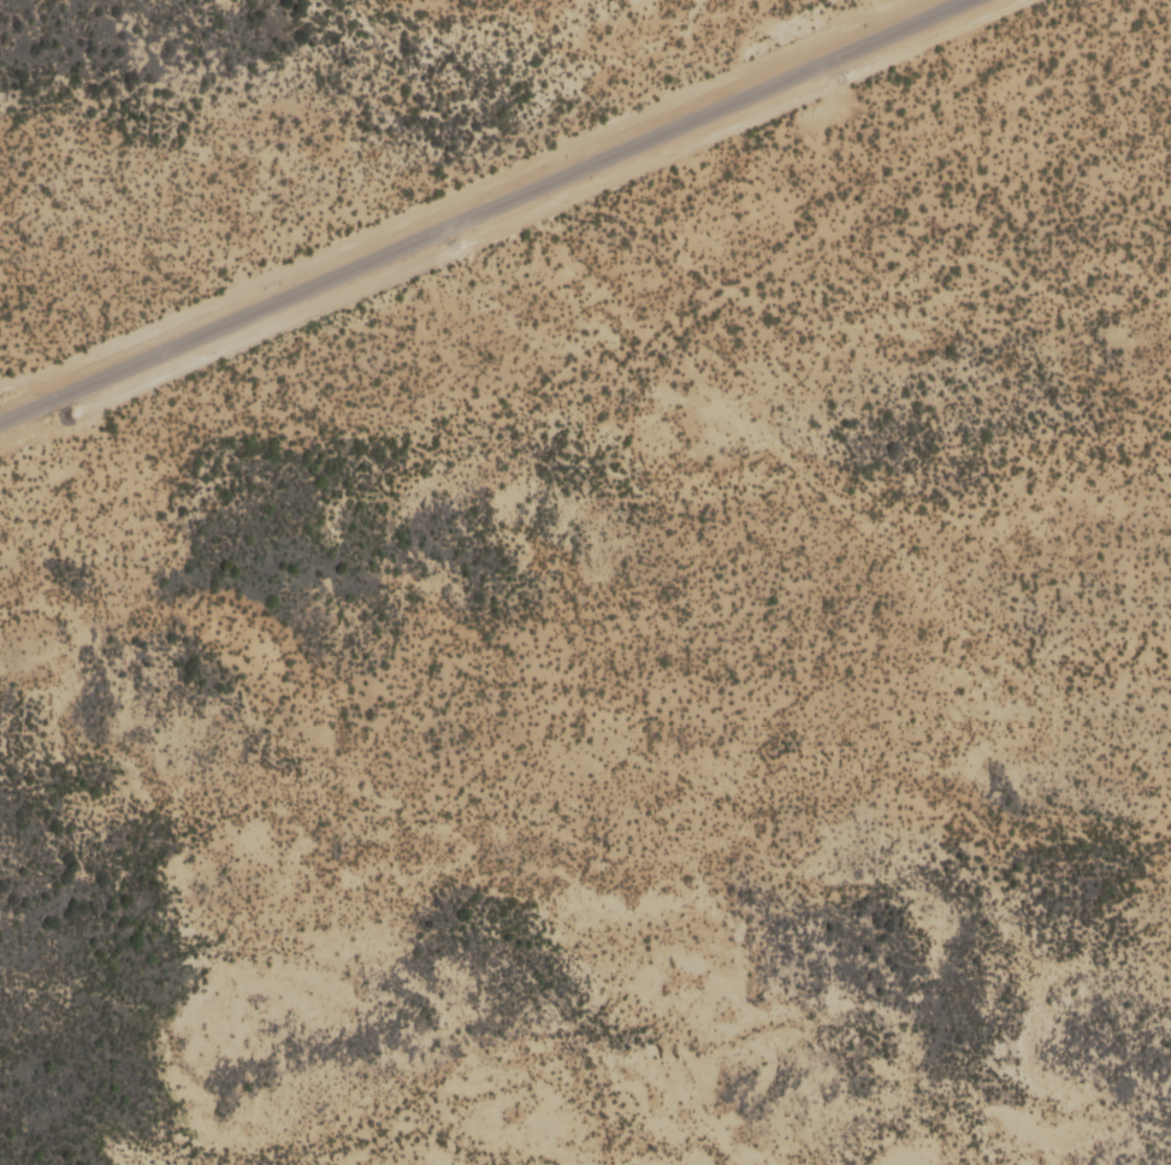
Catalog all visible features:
building: (978, 176)

